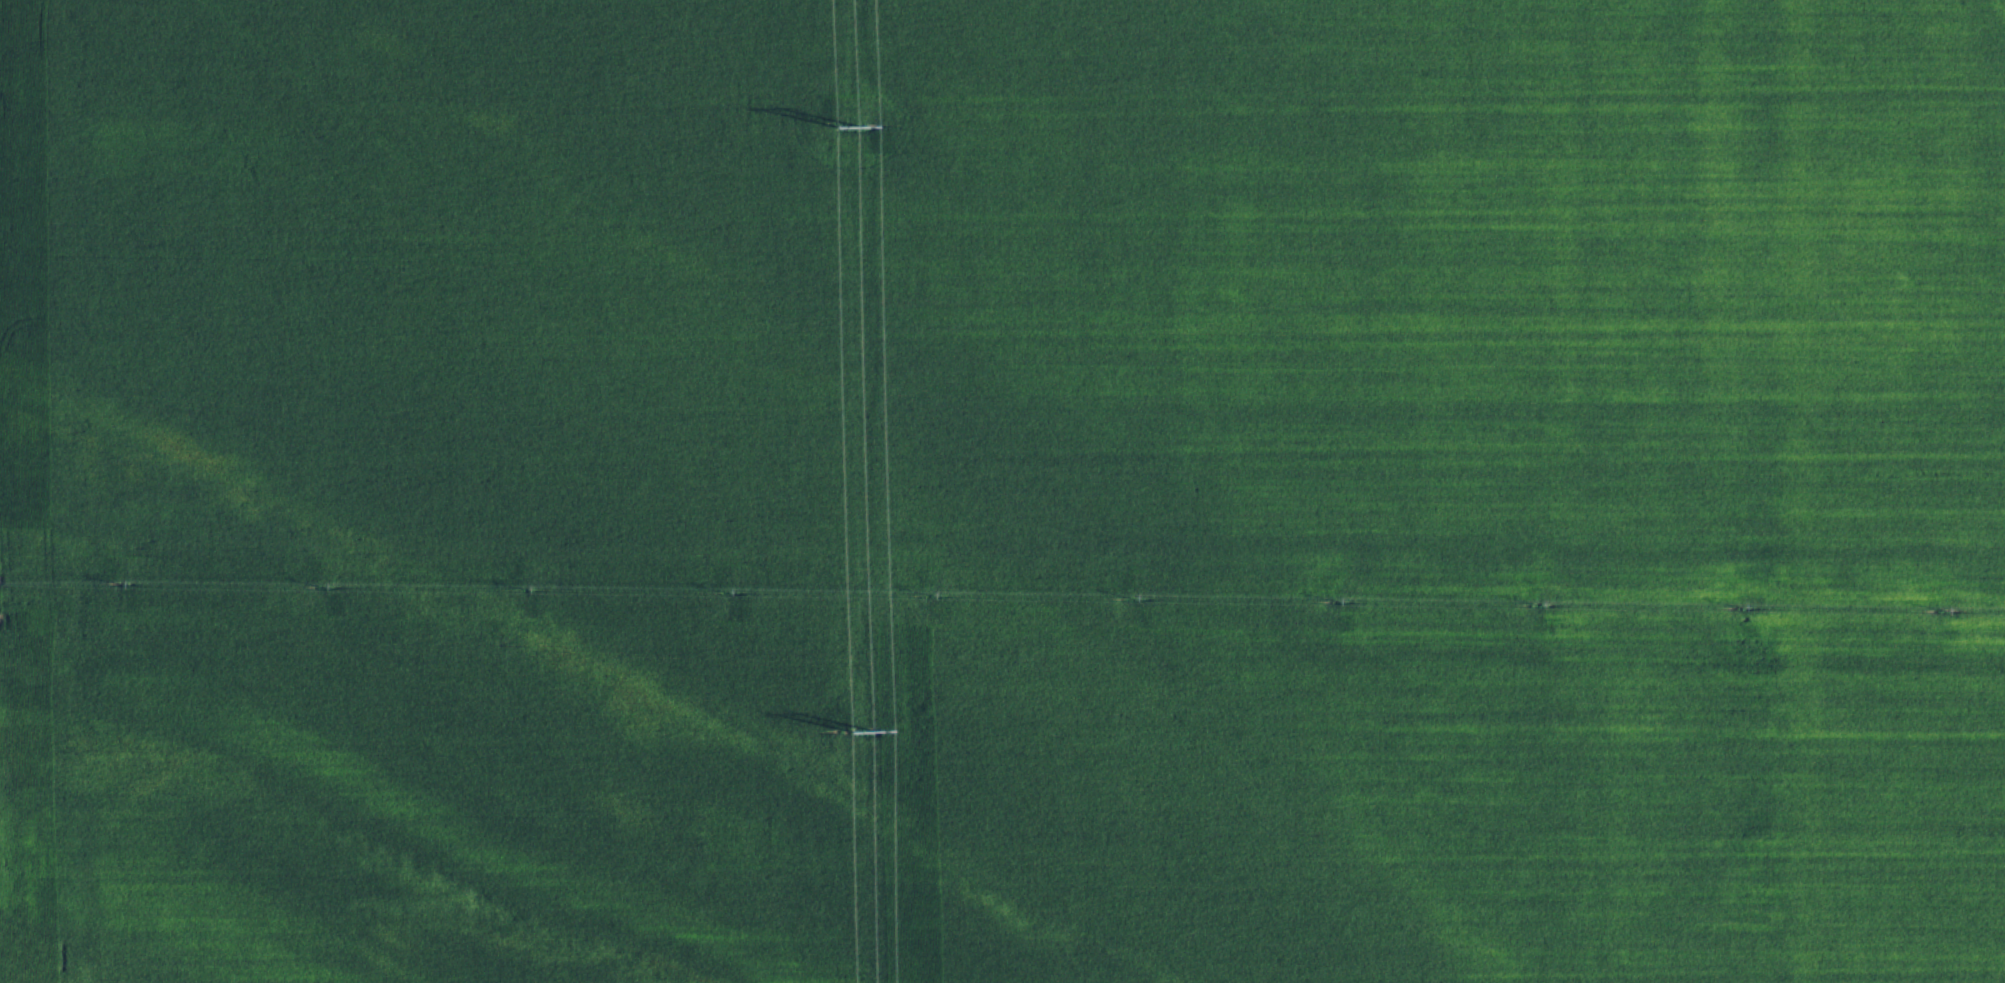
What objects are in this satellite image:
power tower: (849, 125)
power tower: (864, 729)

